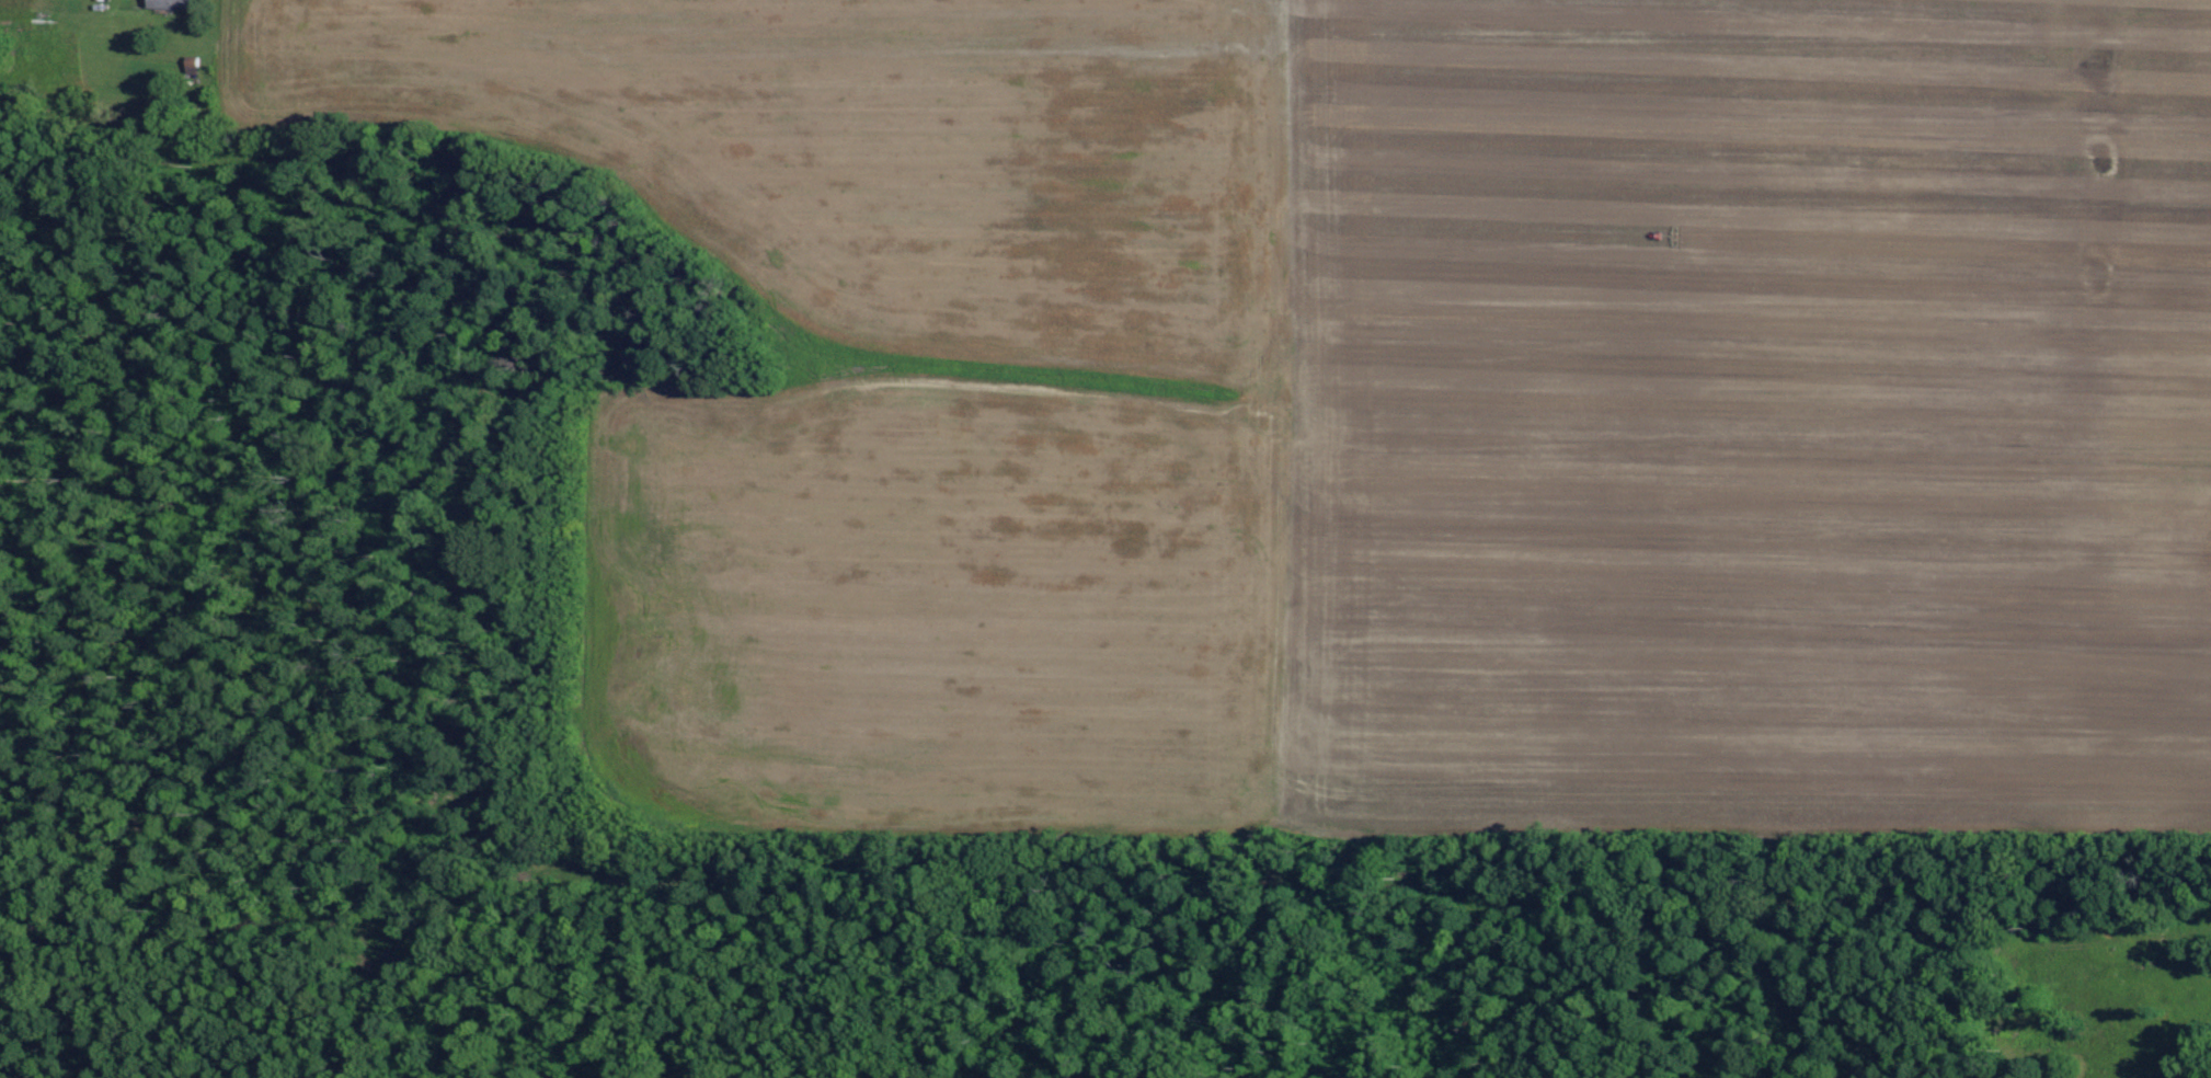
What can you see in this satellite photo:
building: (174, 3)

